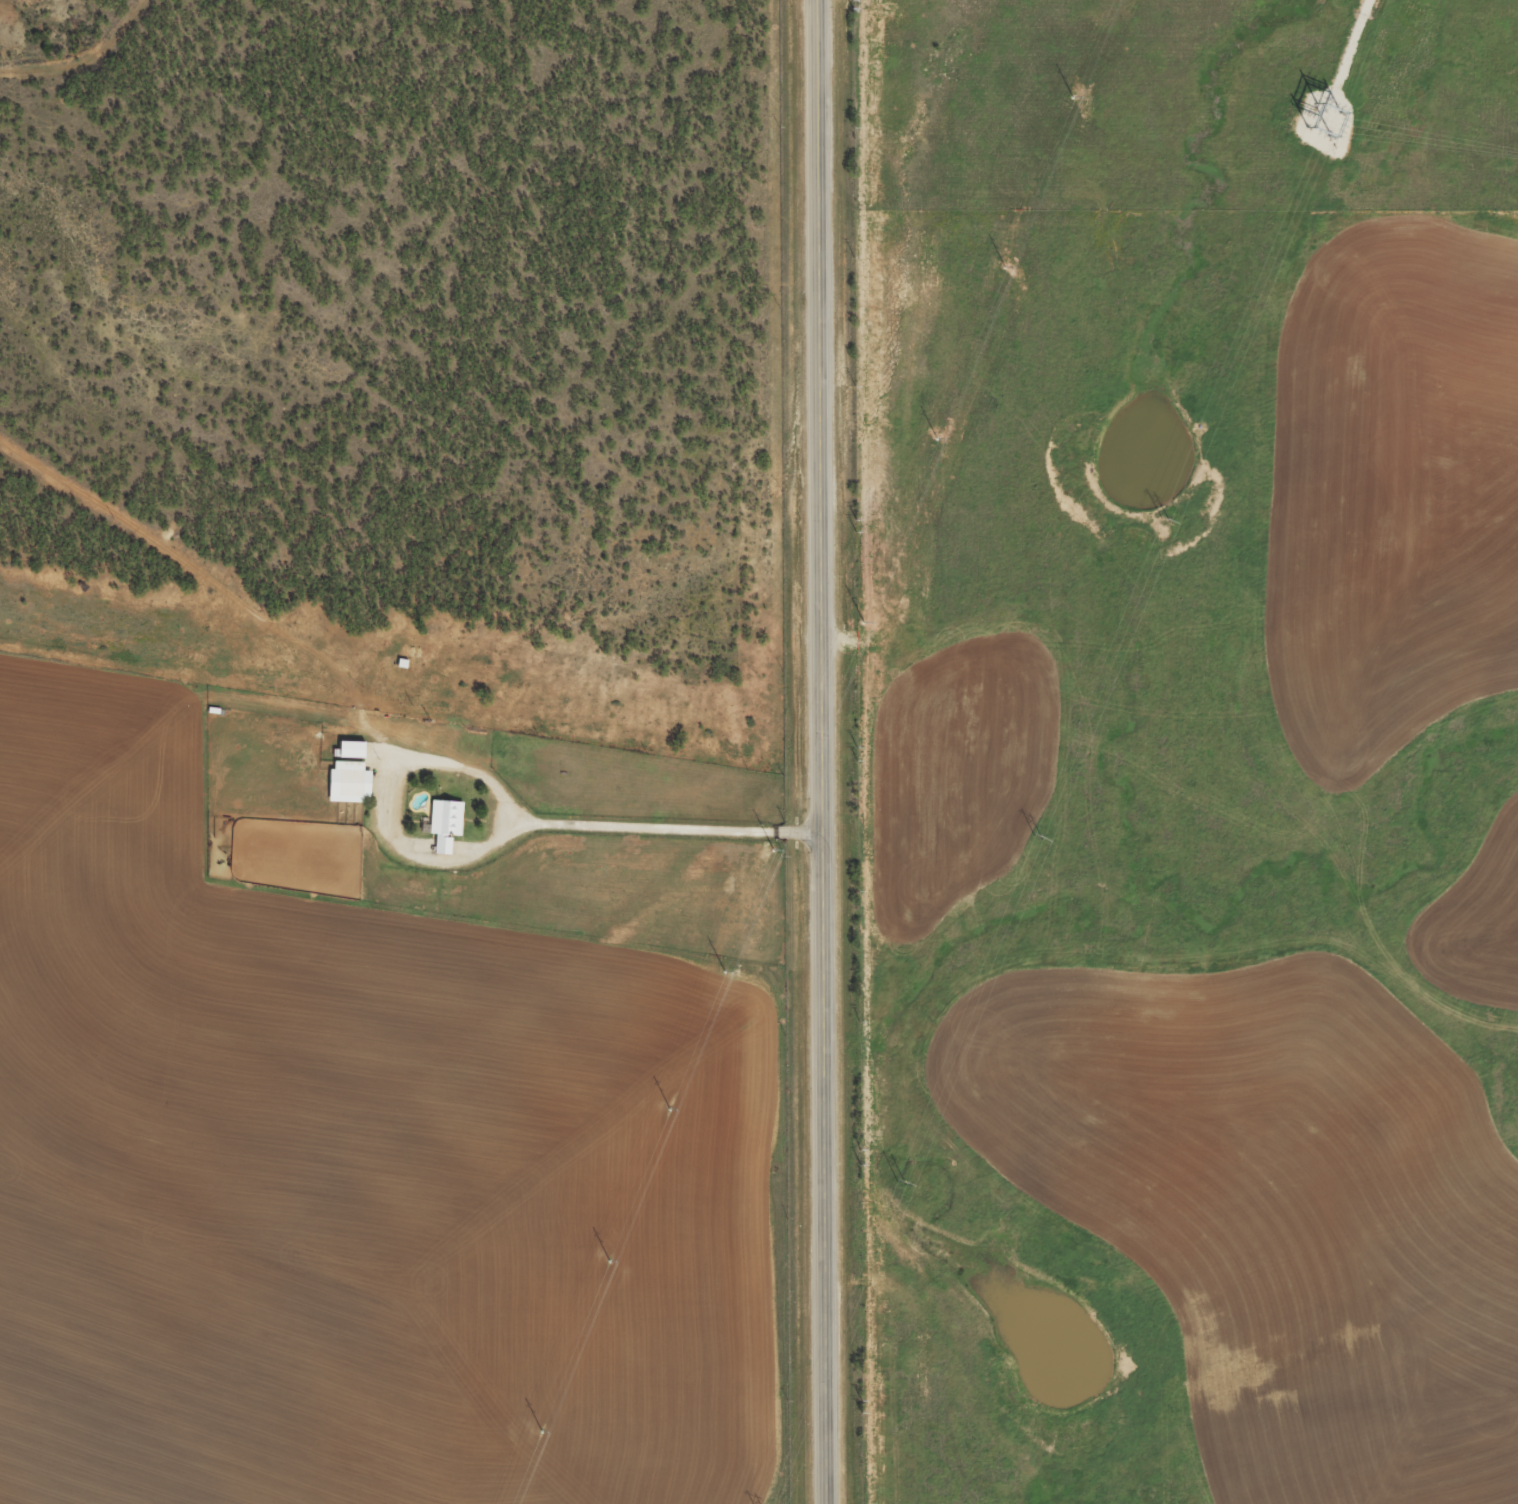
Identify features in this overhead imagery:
power substation: (1323, 121)
power tower: (1163, 519)
road: (820, 751)
building: (355, 758)
building: (351, 790)
building: (446, 832)
power tower: (1036, 838)
road: (492, 843)
power tower: (899, 1183)

